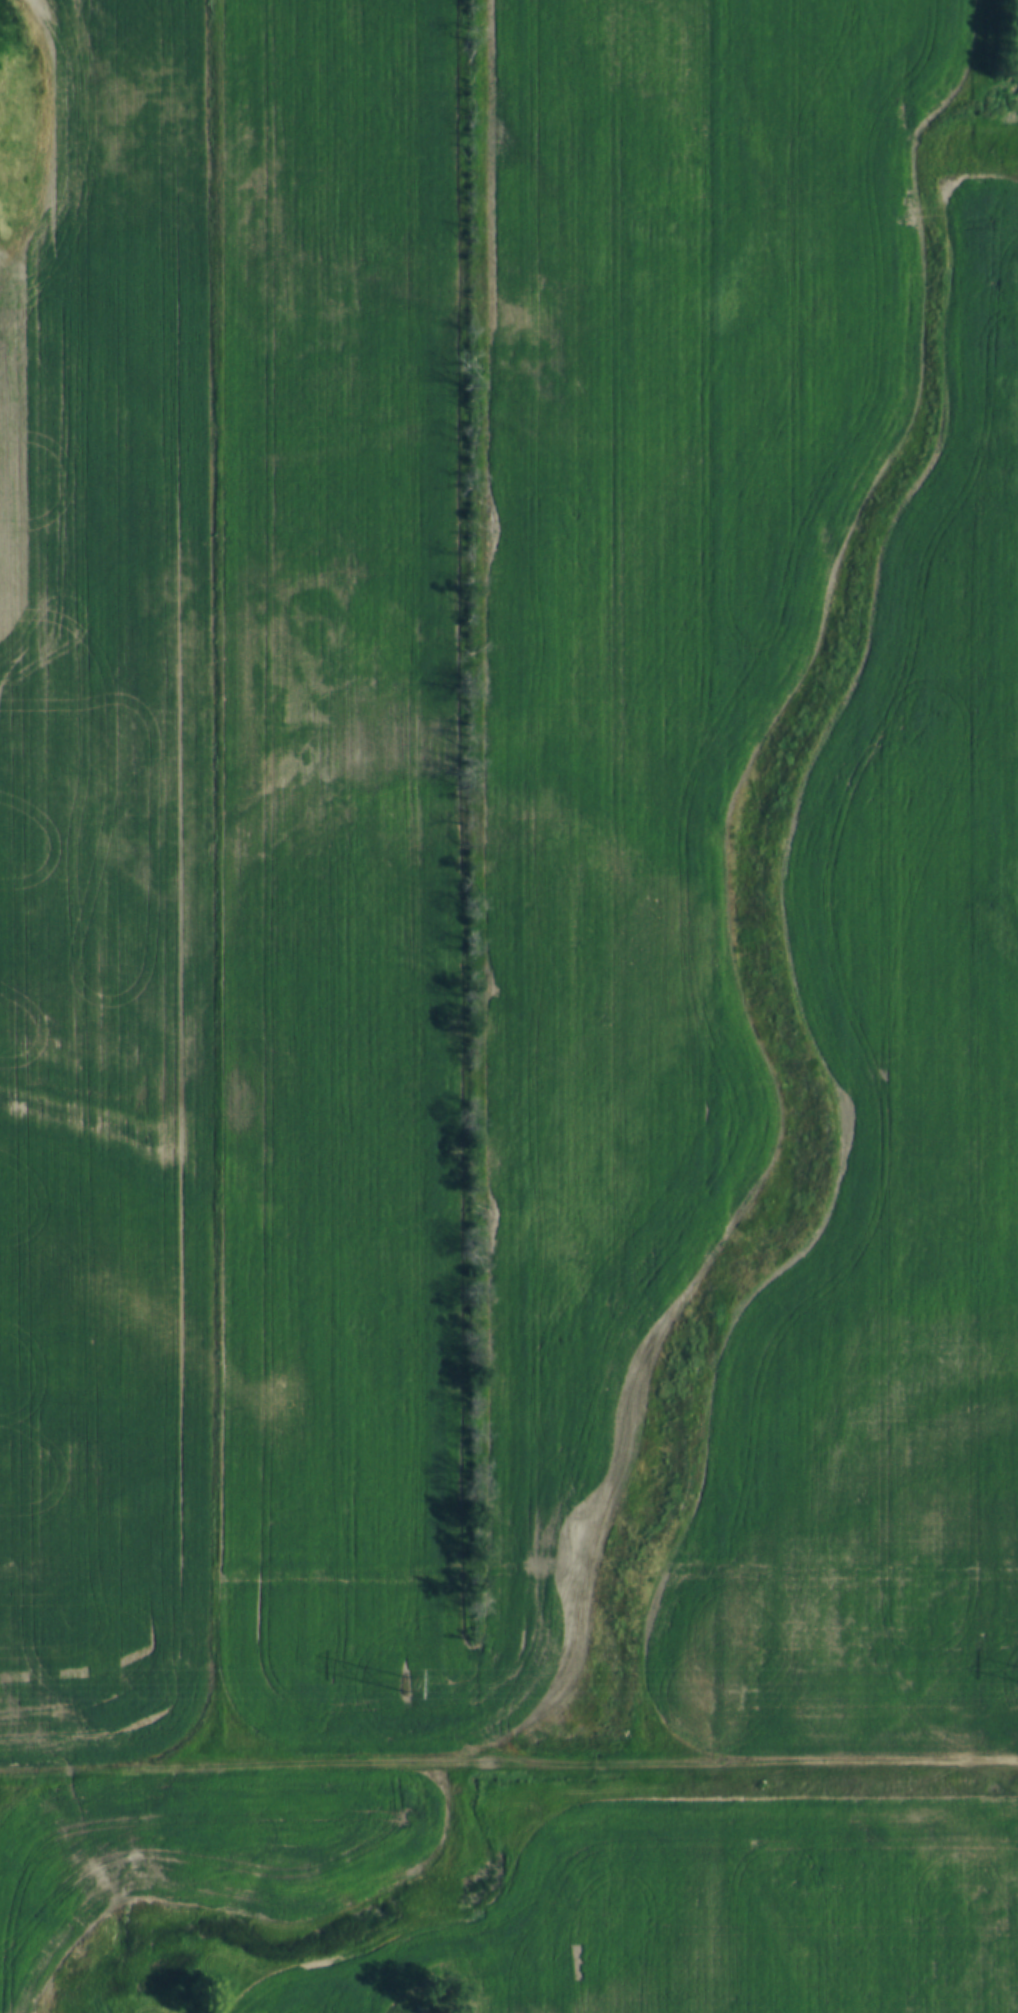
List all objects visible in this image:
power tower: (395, 1676)
road: (508, 1762)

